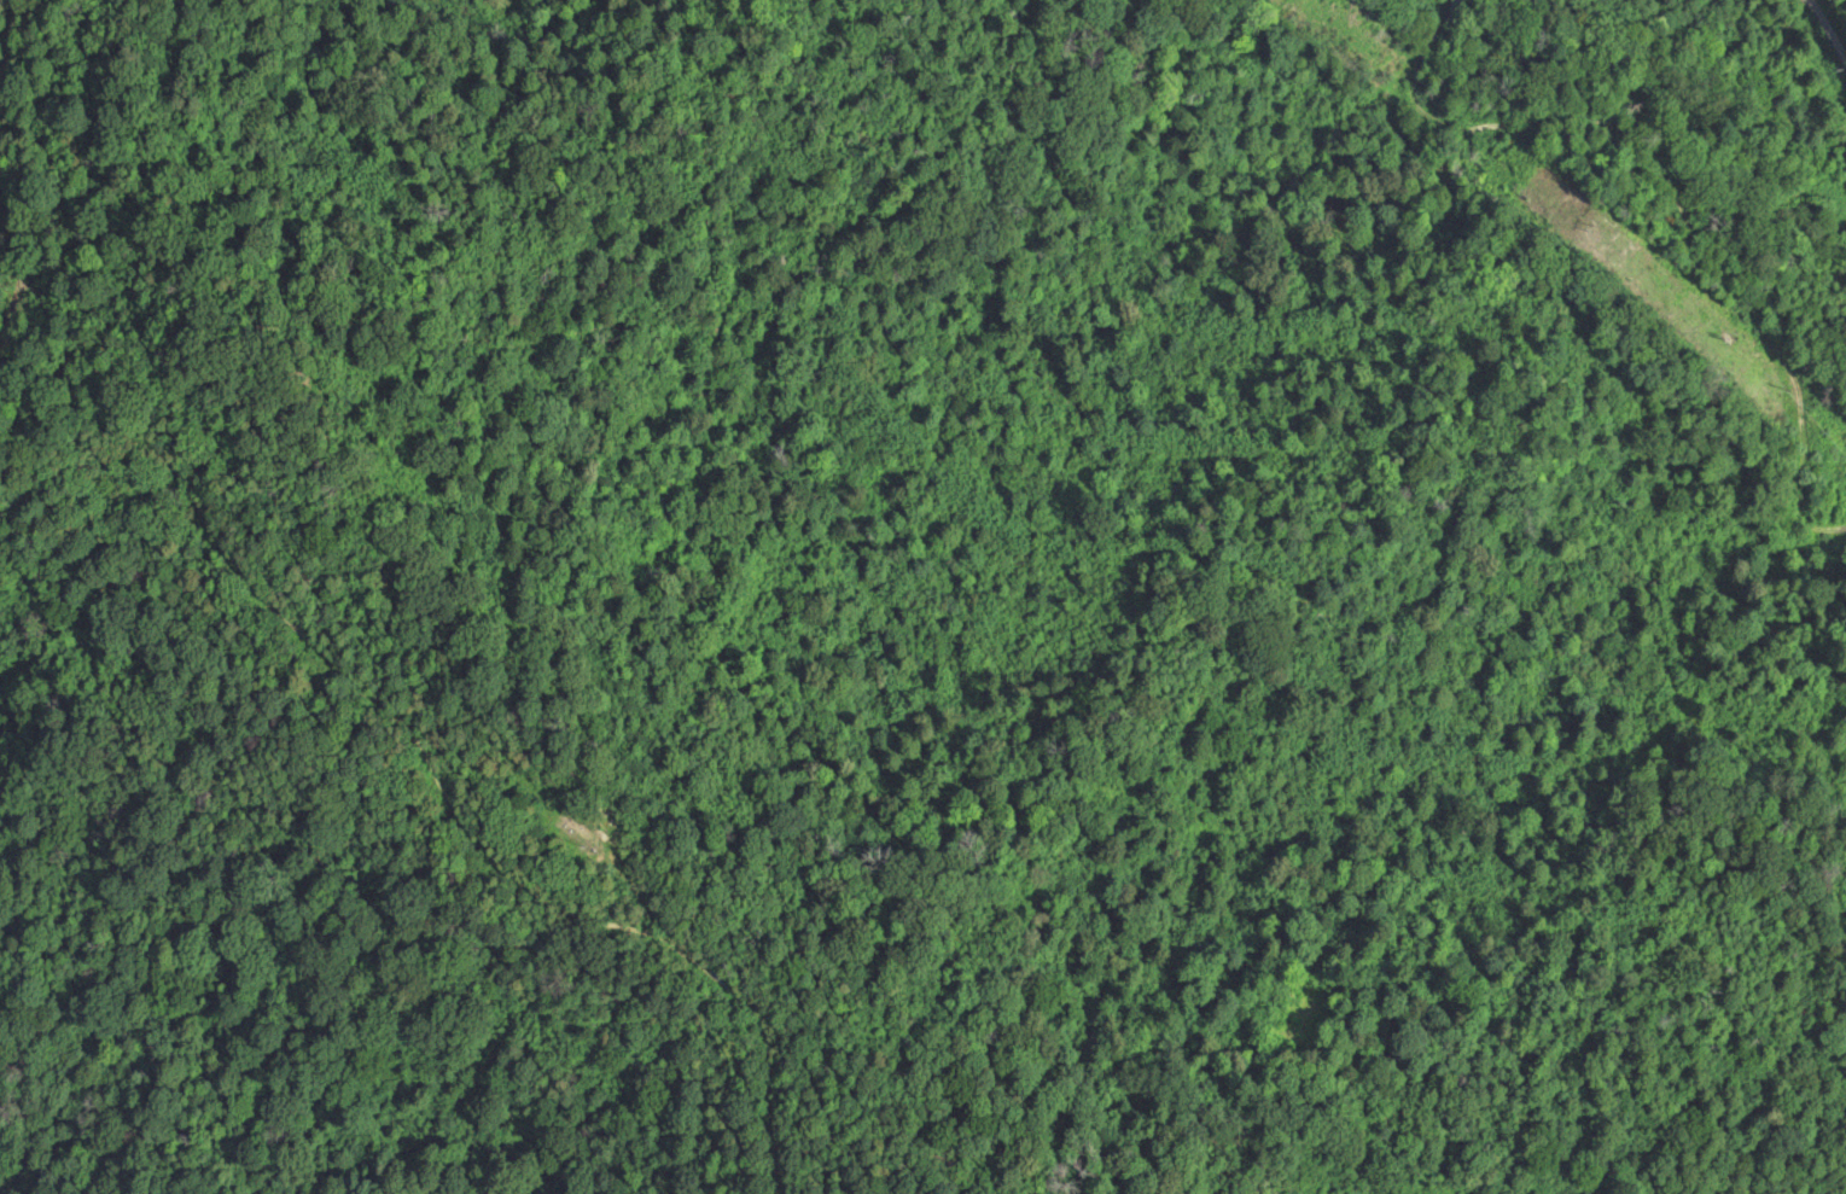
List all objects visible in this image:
road: (1833, 22)

